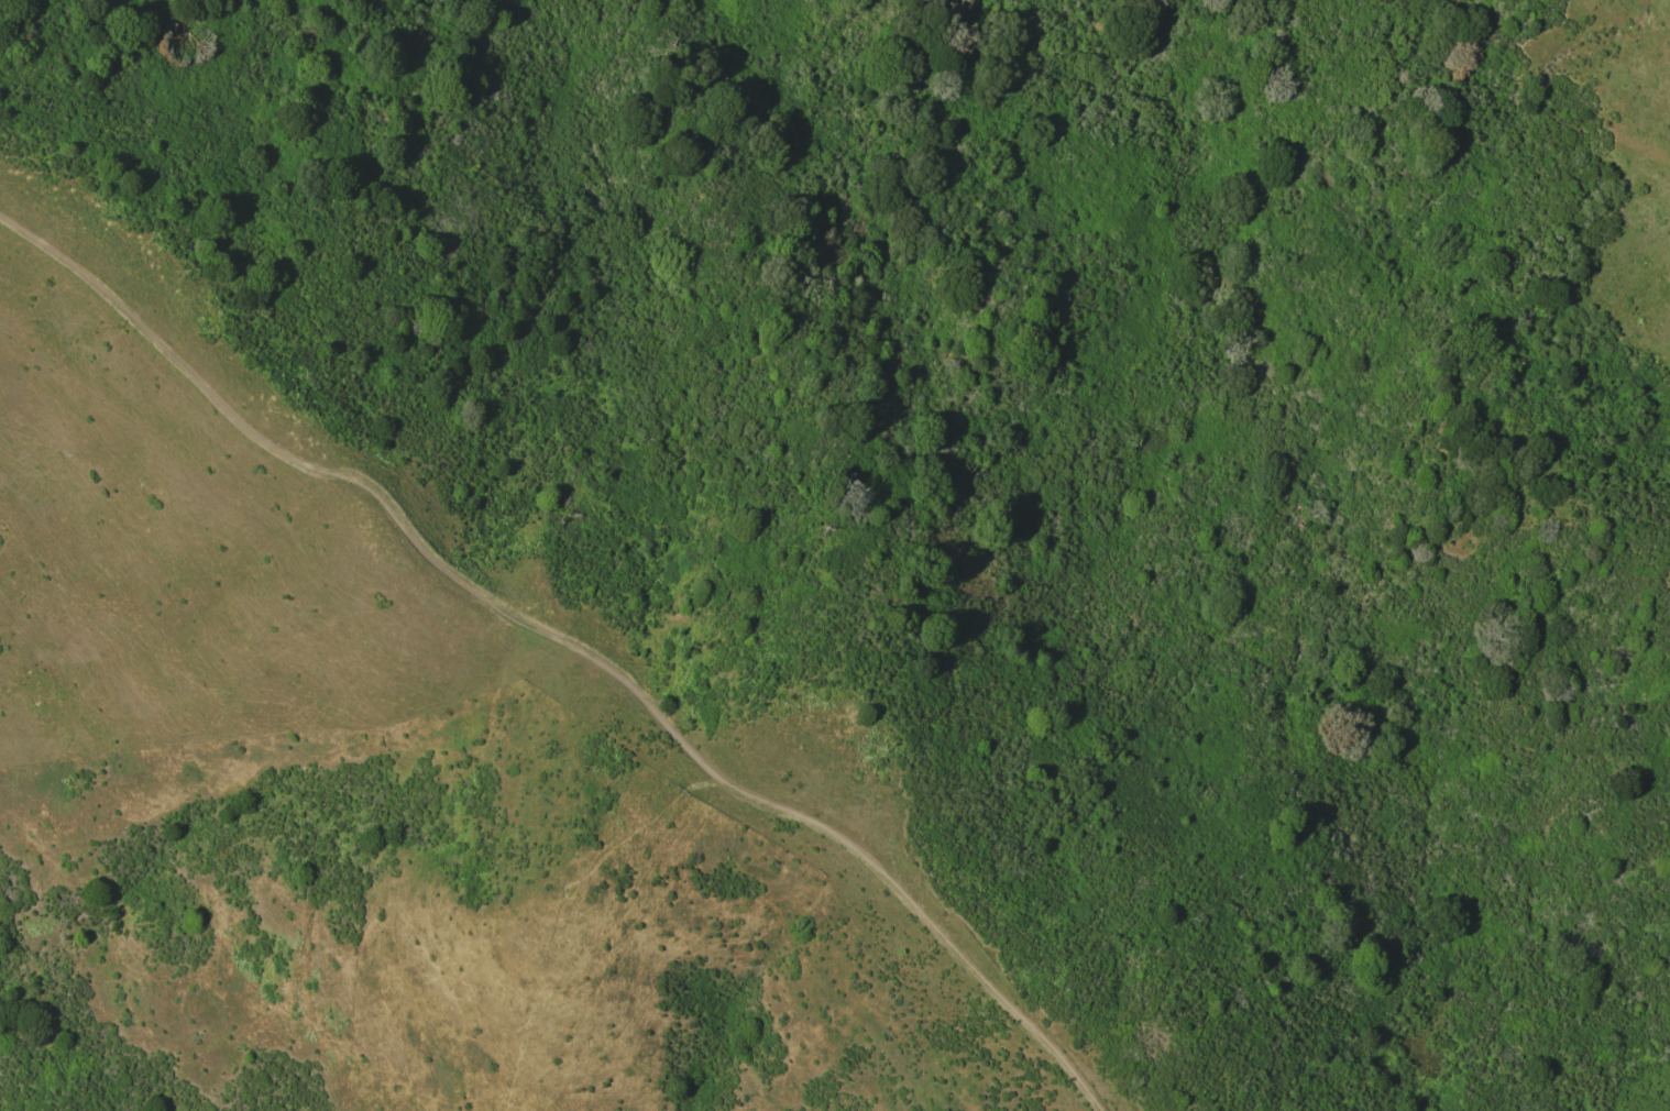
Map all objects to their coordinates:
road: (561, 649)

